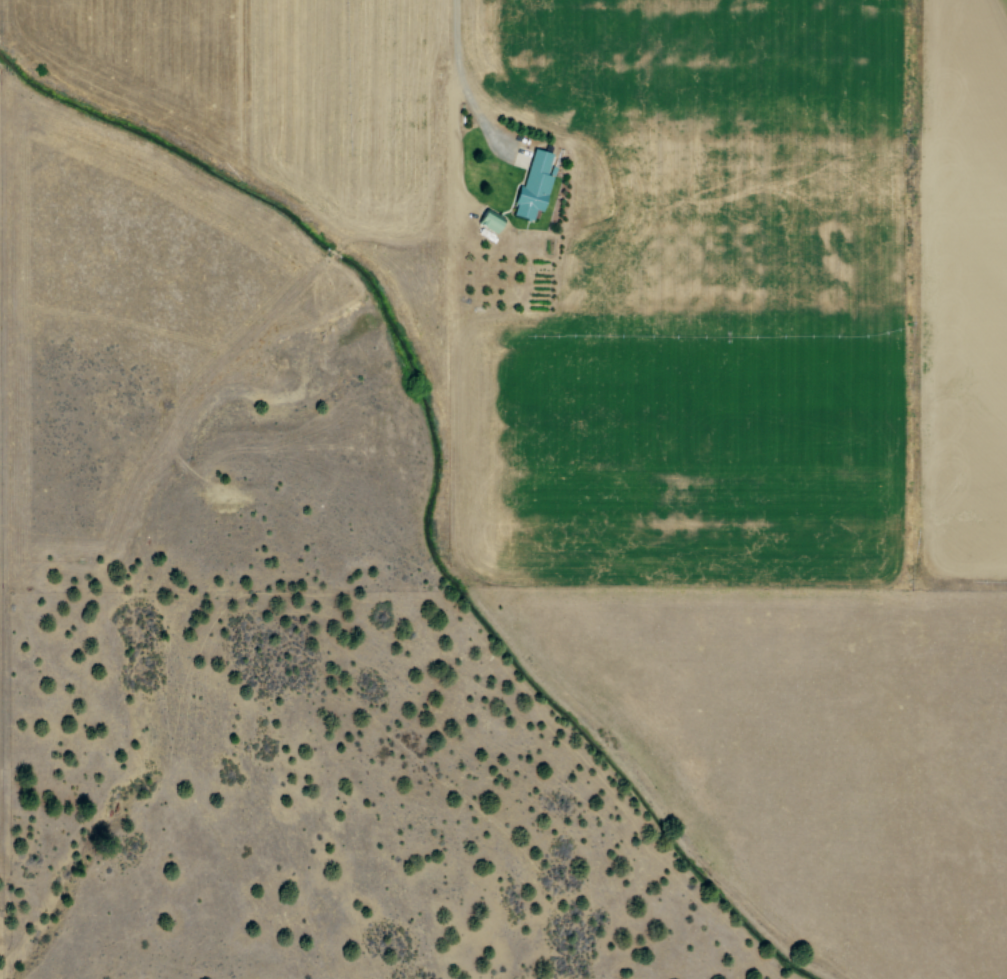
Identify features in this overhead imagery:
building: (533, 184)

